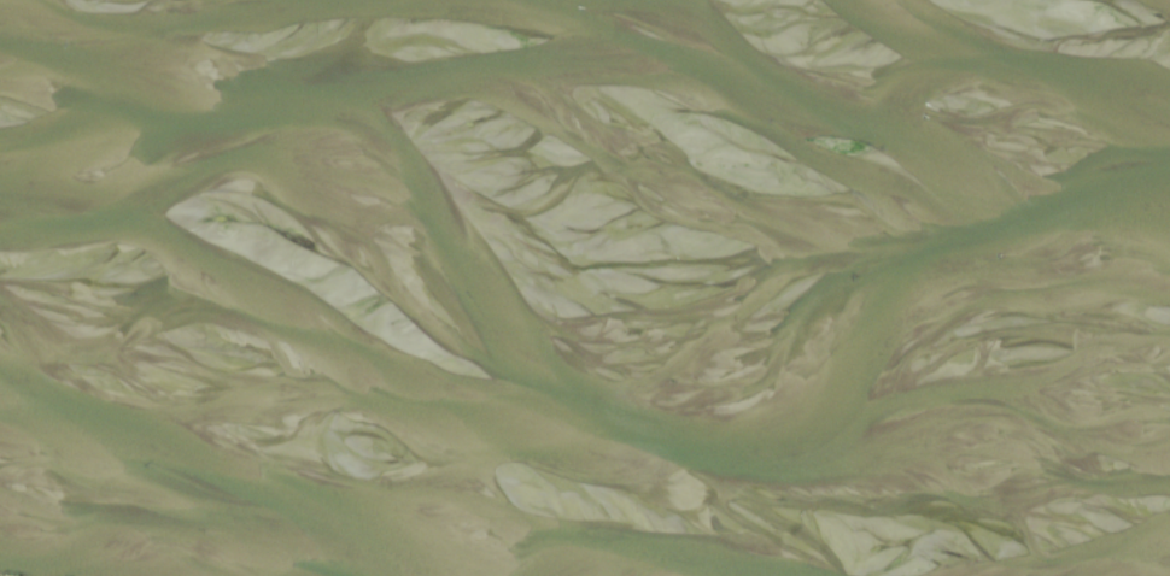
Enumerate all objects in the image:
river: (583, 483)

